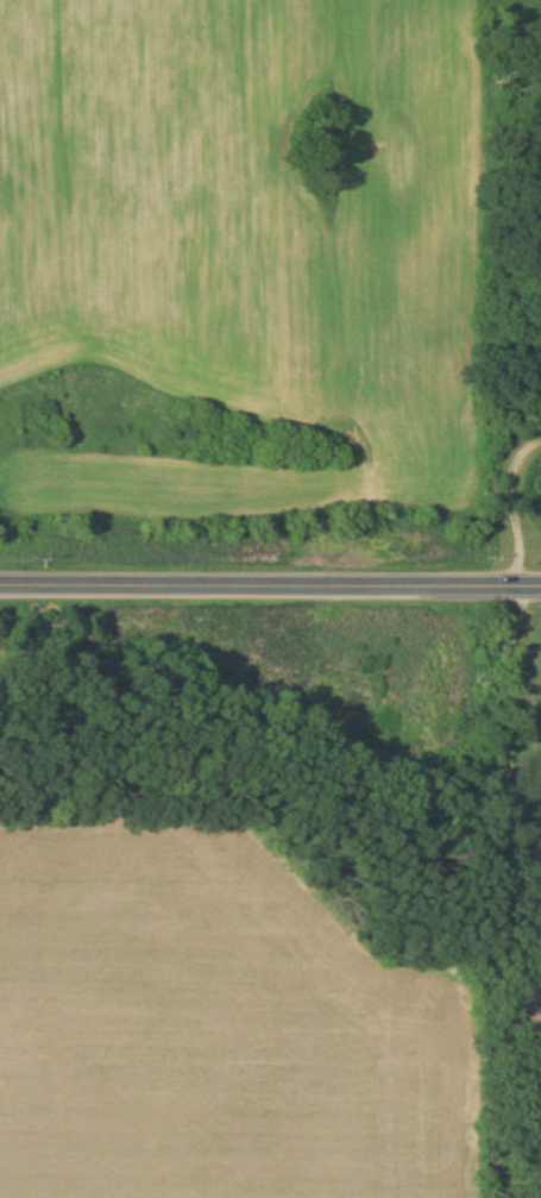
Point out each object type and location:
road: (515, 510)
road: (270, 587)
road: (501, 892)

